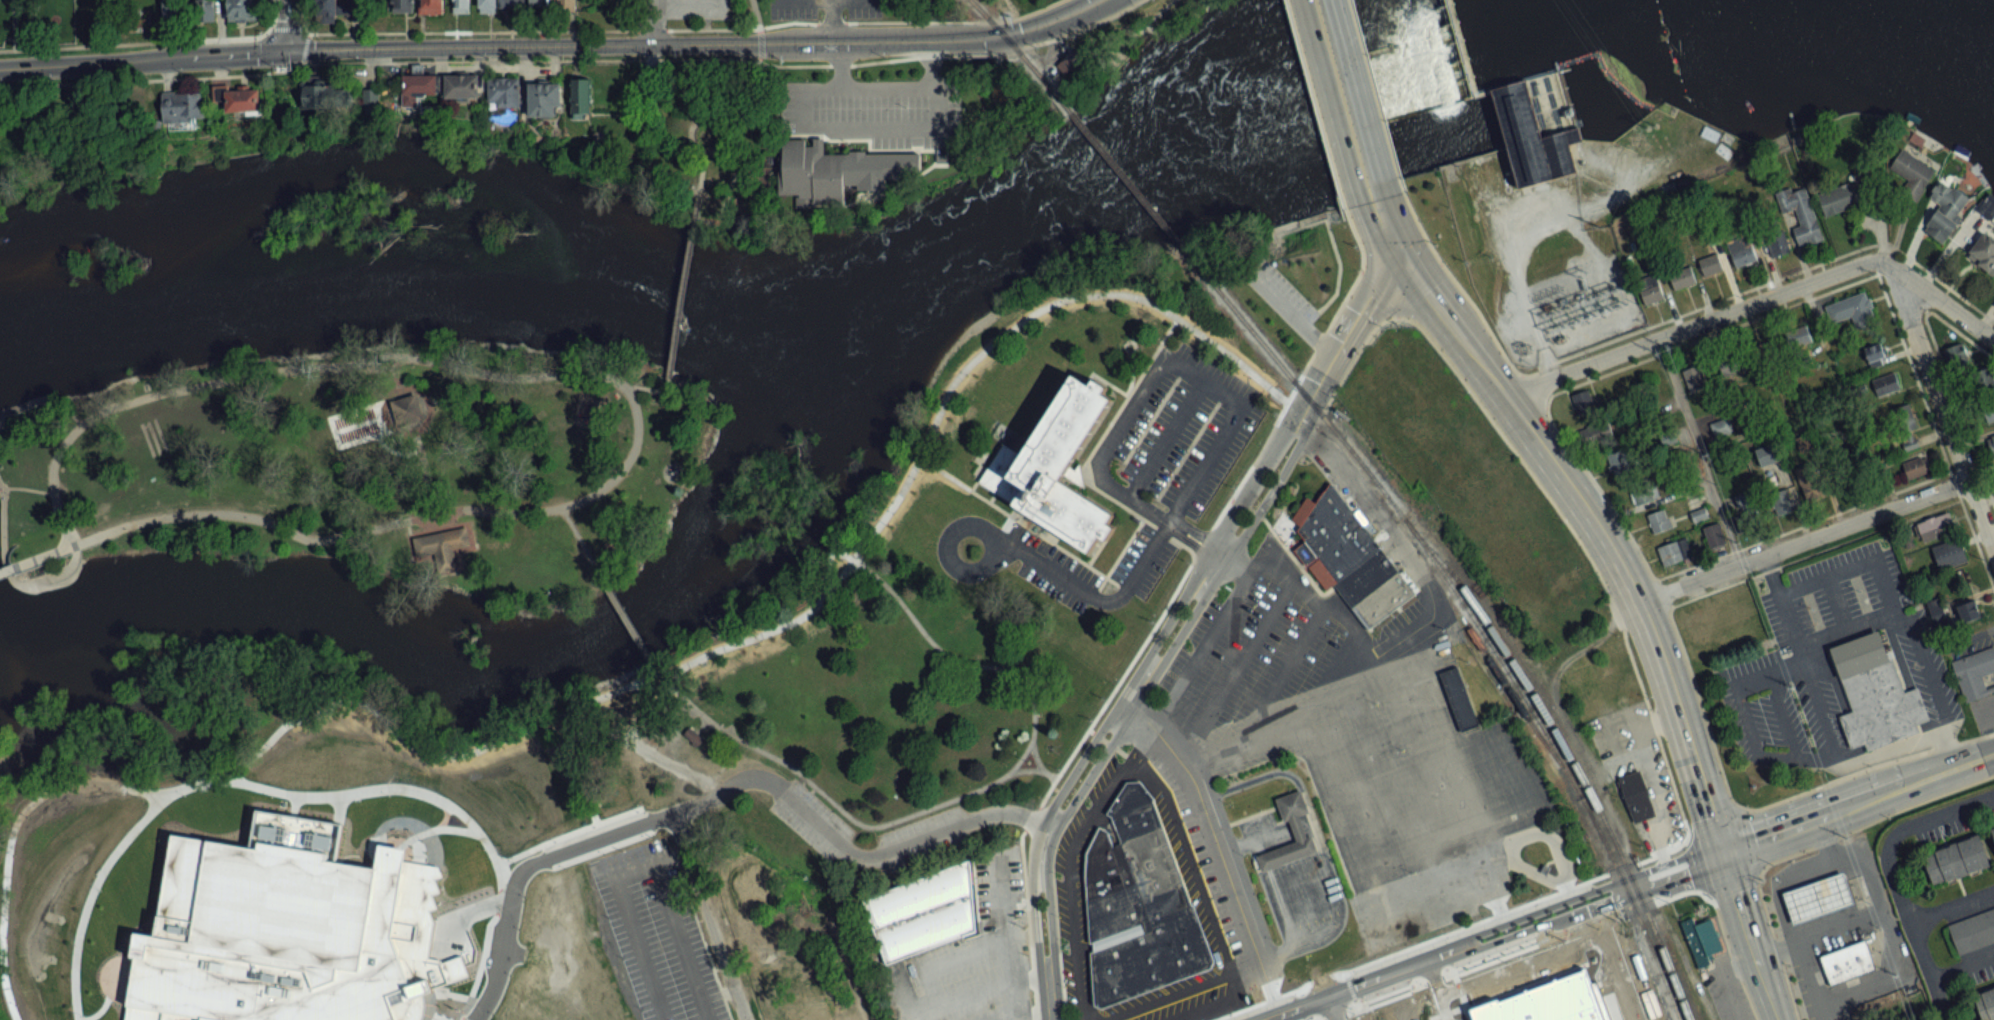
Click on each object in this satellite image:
road: (691, 1)
building: (540, 3)
building: (510, 4)
building: (566, 4)
building: (460, 6)
building: (487, 6)
building: (431, 7)
building: (339, 8)
parking lot: (696, 9)
building: (206, 10)
building: (240, 12)
road: (756, 14)
road: (272, 15)
road: (1017, 15)
road: (301, 16)
road: (654, 20)
road: (952, 20)
road: (878, 21)
road: (1145, 22)
road: (1050, 24)
road: (291, 26)
road: (530, 30)
road: (1069, 31)
road: (967, 38)
road: (134, 42)
road: (830, 43)
road: (759, 44)
road: (470, 47)
railway: (1017, 51)
traffic signals: (292, 52)
road: (975, 53)
road: (475, 59)
road: (930, 61)
building: (1069, 61)
building: (420, 85)
building: (462, 87)
building: (503, 93)
road: (1374, 94)
road: (693, 96)
building: (333, 98)
building: (582, 98)
road: (1342, 99)
building: (370, 100)
building: (545, 100)
building: (242, 101)
building: (182, 107)
road: (1314, 108)
building: (1522, 108)
dam: (1522, 108)
road: (696, 118)
road: (902, 125)
road: (727, 131)
park: (704, 132)
building: (834, 169)
building: (1910, 175)
railway: (1134, 189)
building: (1843, 197)
building: (1945, 211)
building: (1800, 213)
road: (1331, 241)
road: (1357, 242)
building: (1777, 243)
building: (1742, 252)
building: (1983, 253)
traffic signals: (1399, 254)
building: (1710, 265)
building: (1682, 277)
road: (1454, 280)
road: (1761, 283)
road: (681, 287)
parking lot: (1284, 287)
building: (1651, 292)
road: (1378, 293)
river: (761, 297)
road: (1757, 300)
building: (1849, 308)
power substation: (1567, 310)
road: (1289, 314)
road: (1312, 314)
road: (1304, 322)
road: (1960, 333)
road: (1321, 335)
road: (1345, 336)
road: (1701, 336)
building: (1799, 336)
building: (1876, 353)
road: (1353, 356)
road: (411, 357)
building: (1734, 363)
road: (1211, 383)
building: (1985, 383)
building: (1886, 384)
road: (649, 387)
road: (1532, 390)
building: (615, 393)
building: (1584, 401)
road: (28, 402)
road: (373, 404)
road: (1940, 407)
road: (1957, 411)
building: (1989, 411)
building: (1904, 418)
road: (1315, 421)
road: (355, 424)
building: (1725, 427)
building: (1596, 433)
road: (1935, 433)
road: (1163, 436)
building: (1993, 440)
building: (1806, 441)
building: (1911, 443)
road: (1697, 450)
road: (395, 453)
building: (1768, 454)
road: (422, 462)
building: (1619, 463)
road: (1249, 465)
building: (1917, 466)
building: (1051, 468)
park: (367, 469)
building: (1809, 480)
road: (25, 487)
building: (1643, 492)
road: (1130, 498)
road: (1229, 499)
road: (433, 501)
building: (1780, 502)
road: (1583, 505)
building: (1745, 505)
road: (1246, 508)
building: (1698, 513)
road: (436, 515)
building: (1659, 520)
road: (272, 523)
road: (1022, 524)
road: (1800, 524)
road: (977, 525)
building: (1934, 527)
road: (1179, 528)
building: (1714, 535)
road: (1801, 540)
road: (1200, 542)
road: (69, 543)
road: (581, 544)
building: (446, 546)
road: (1208, 548)
road: (1583, 550)
building: (1675, 551)
road: (1810, 553)
road: (1290, 554)
building: (1949, 554)
road: (1218, 555)
building: (1347, 559)
road: (5, 569)
road: (9, 577)
road: (1094, 596)
road: (1662, 601)
road: (1889, 608)
road: (1223, 611)
building: (1735, 611)
building: (1969, 611)
building: (1938, 613)
road: (1424, 621)
railway: (1486, 621)
road: (628, 623)
building: (1704, 632)
road: (1827, 641)
road: (1801, 653)
road: (1235, 668)
road: (1282, 671)
road: (1757, 675)
building: (1976, 675)
road: (1182, 677)
road: (1115, 682)
road: (615, 690)
building: (1872, 693)
building: (1456, 698)
road: (1116, 703)
railway: (1517, 704)
road: (1132, 706)
road: (1284, 718)
road: (1565, 724)
park: (832, 727)
building: (693, 735)
road: (1140, 743)
railway: (1555, 753)
road: (1953, 754)
road: (1795, 758)
road: (1975, 759)
road: (1864, 766)
road: (1038, 768)
road: (1046, 773)
road: (1119, 775)
road: (769, 782)
road: (379, 788)
road: (962, 794)
building: (1634, 795)
road: (293, 805)
road: (339, 809)
road: (1839, 810)
road: (1308, 812)
road: (444, 816)
road: (1032, 818)
road: (1871, 820)
road: (415, 826)
building: (1295, 828)
road: (1691, 830)
building: (1993, 830)
road: (1541, 832)
road: (566, 834)
road: (1265, 834)
road: (406, 839)
road: (1216, 841)
building: (651, 846)
road: (416, 847)
traffic signals: (1721, 850)
building: (1956, 861)
road: (522, 868)
road: (1696, 869)
road: (1892, 877)
building: (740, 879)
building: (568, 883)
building: (536, 890)
road: (1365, 893)
road: (1585, 893)
road: (1614, 897)
road: (90, 898)
building: (504, 898)
building: (1815, 898)
building: (740, 905)
building: (1136, 906)
road: (1779, 906)
building: (573, 907)
road: (1952, 908)
road: (628, 912)
building: (921, 912)
road: (1314, 912)
road: (463, 914)
building: (517, 920)
road: (1026, 923)
building: (676, 925)
road: (1837, 927)
building: (750, 928)
road: (1451, 928)
road: (1885, 928)
building: (286, 930)
building: (1972, 933)
road: (1750, 934)
parking lot: (655, 935)
building: (1699, 939)
road: (680, 940)
road: (484, 948)
building: (684, 948)
road: (1775, 948)
building: (519, 952)
road: (1510, 956)
road: (1729, 958)
road: (1446, 959)
building: (763, 960)
building: (1845, 961)
road: (1607, 964)
road: (1389, 966)
road: (1962, 966)
road: (843, 968)
building: (691, 973)
road: (1805, 973)
road: (1247, 974)
building: (532, 977)
road: (1215, 977)
road: (994, 979)
building: (464, 982)
road: (1437, 986)
road: (436, 992)
building: (1623, 993)
road: (1328, 995)
parking lot: (1725, 996)
road: (110, 997)
building: (1547, 1002)
building: (1985, 1003)
road: (1283, 1004)
road: (418, 1009)
road: (1306, 1010)
road: (1333, 1010)
park: (1404, 1011)
road: (96, 1012)
road: (406, 1012)
road: (461, 1016)
road: (1034, 1017)
road: (1049, 1017)
road: (465, 1018)
road: (1280, 1019)

